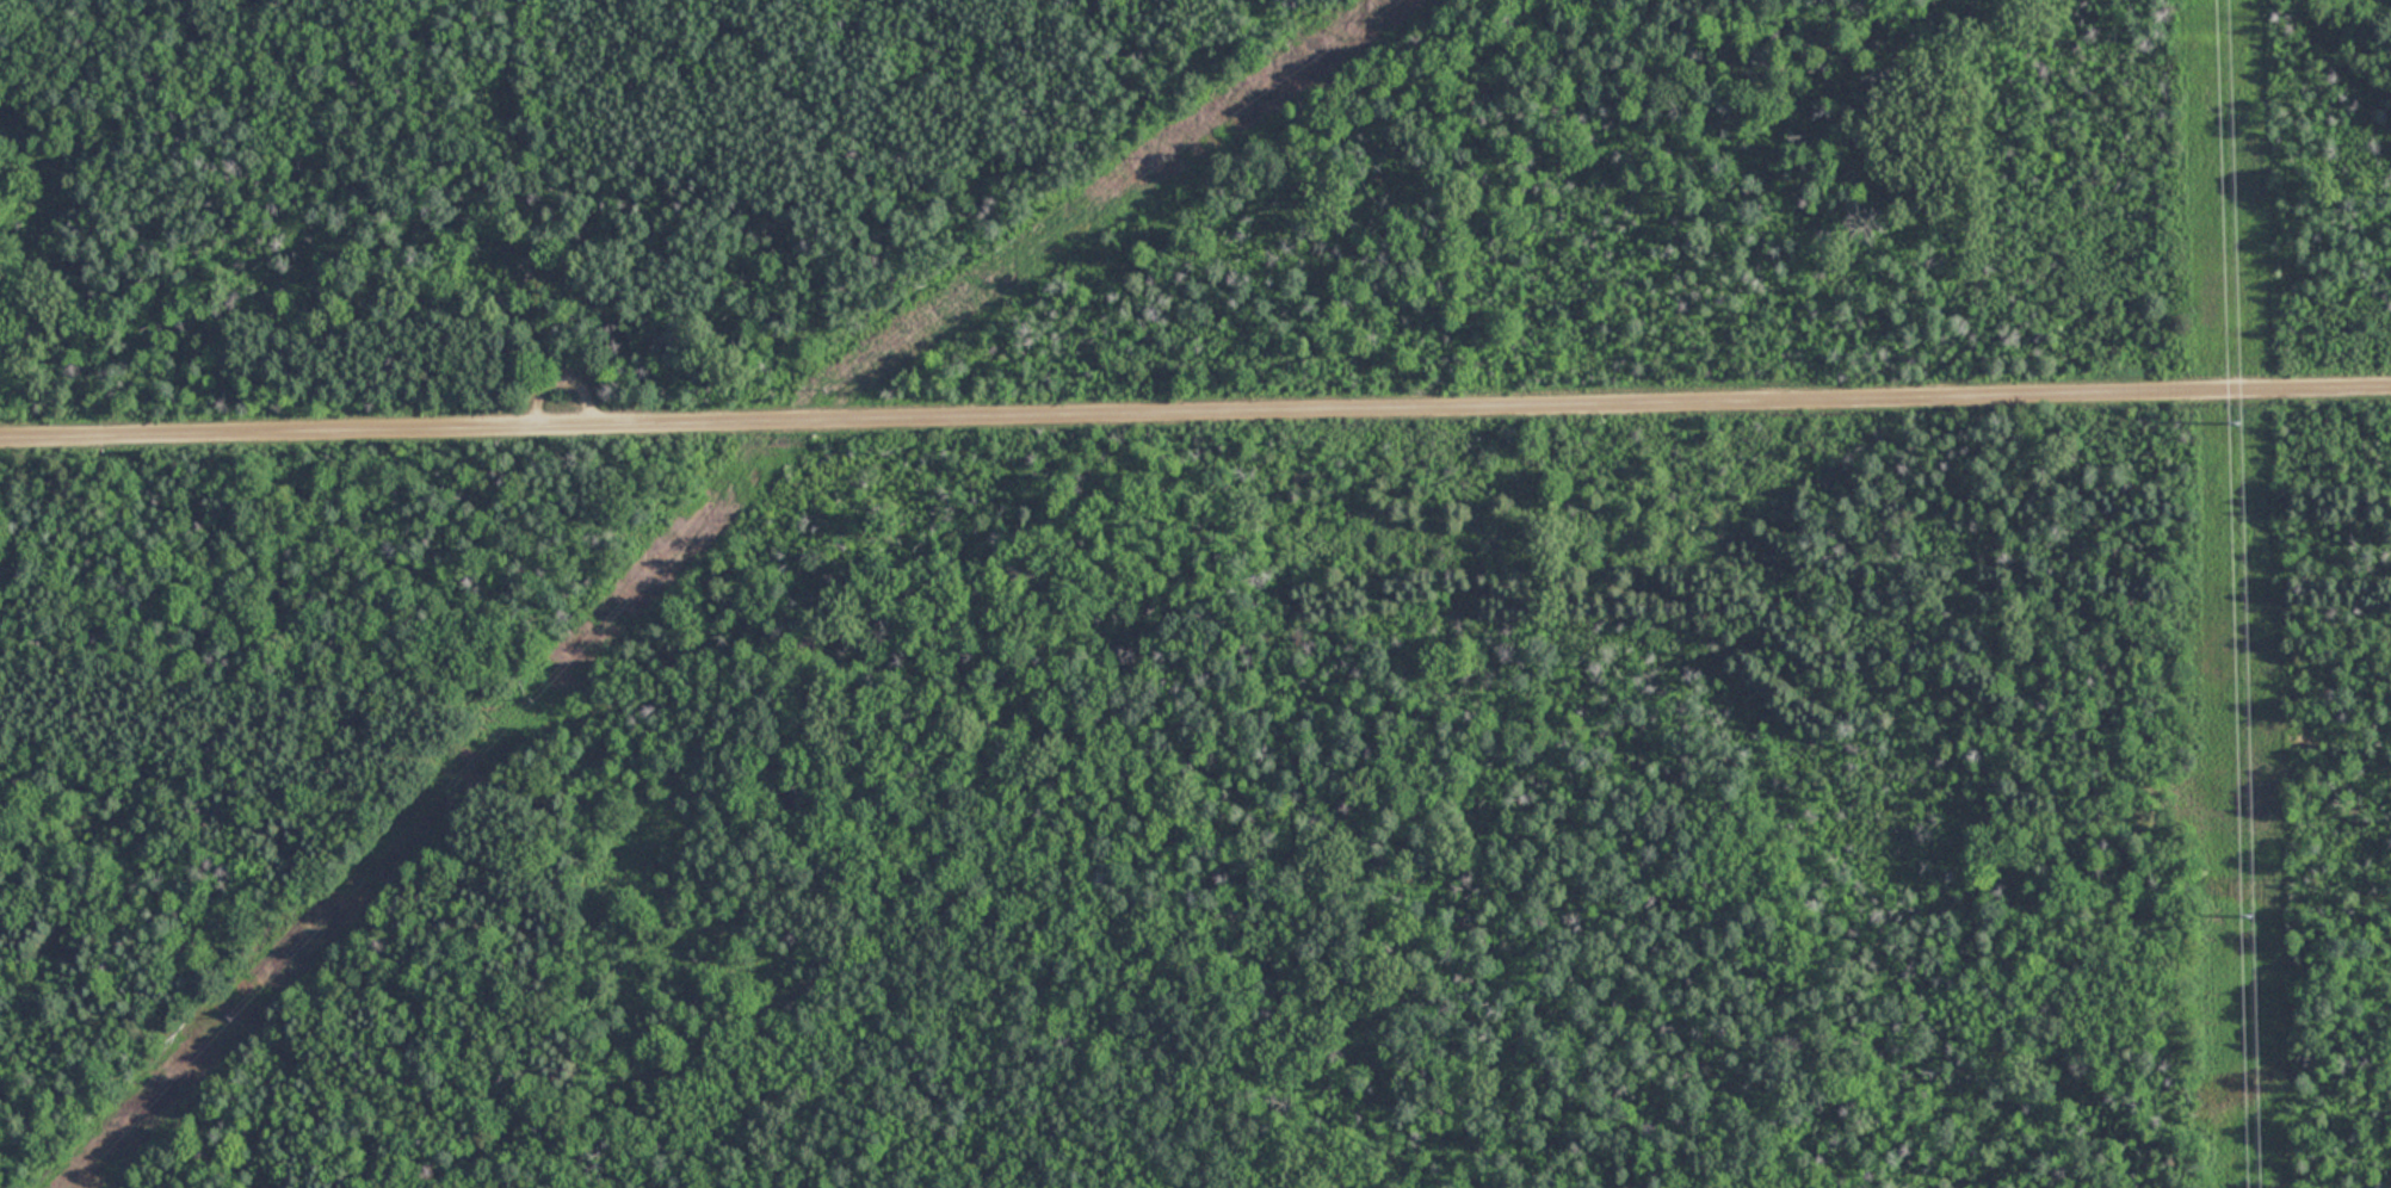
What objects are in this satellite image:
road: (1195, 413)
power tower: (2238, 429)
park: (1195, 594)
power tower: (2248, 917)

